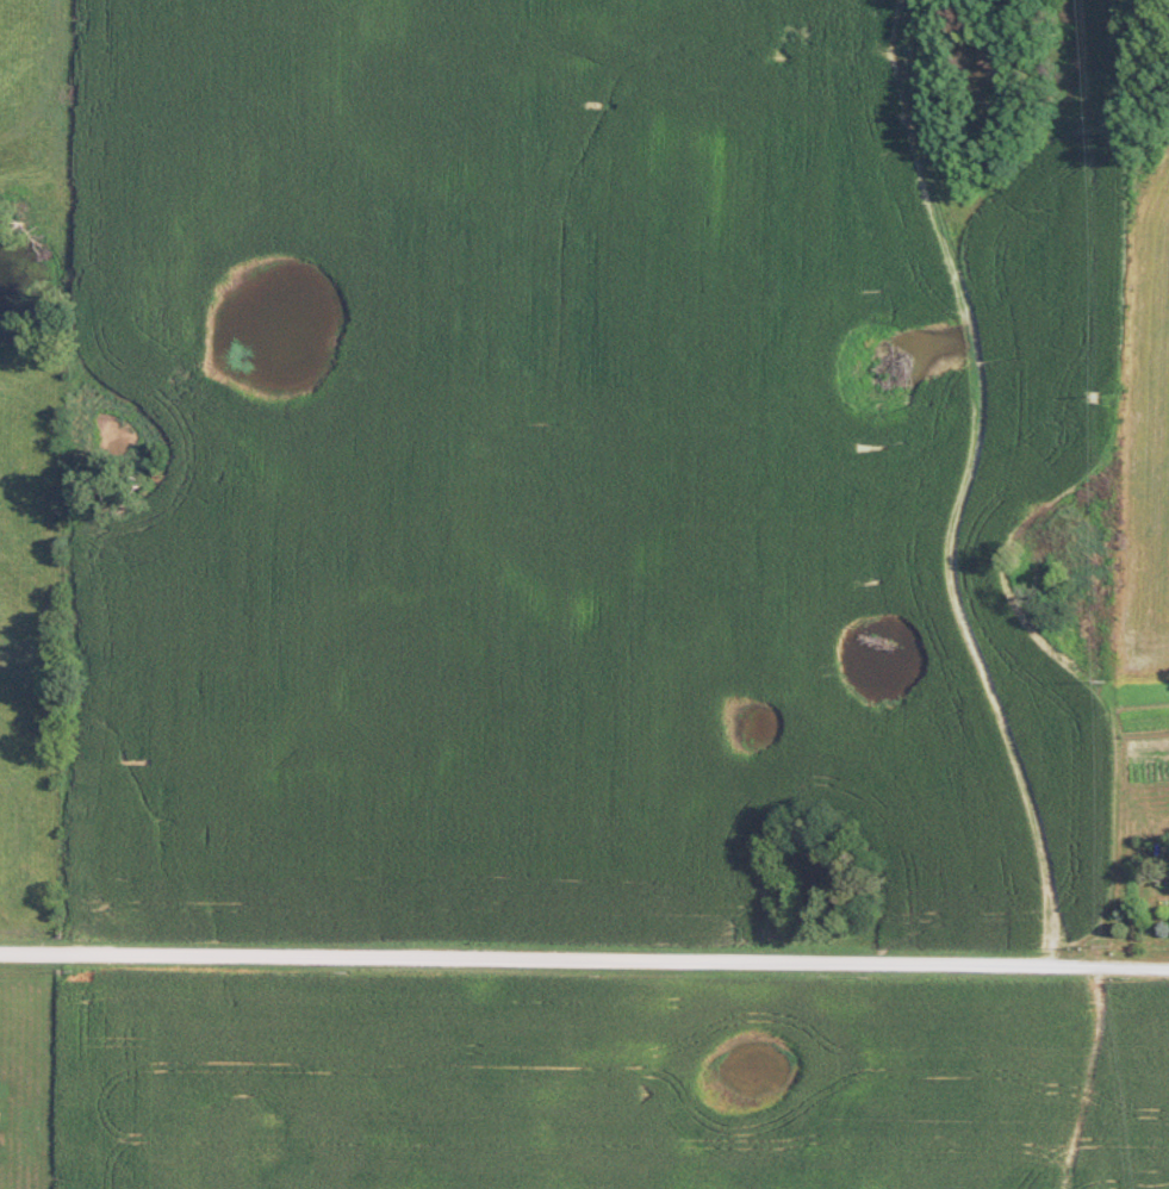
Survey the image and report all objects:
road: (584, 957)

